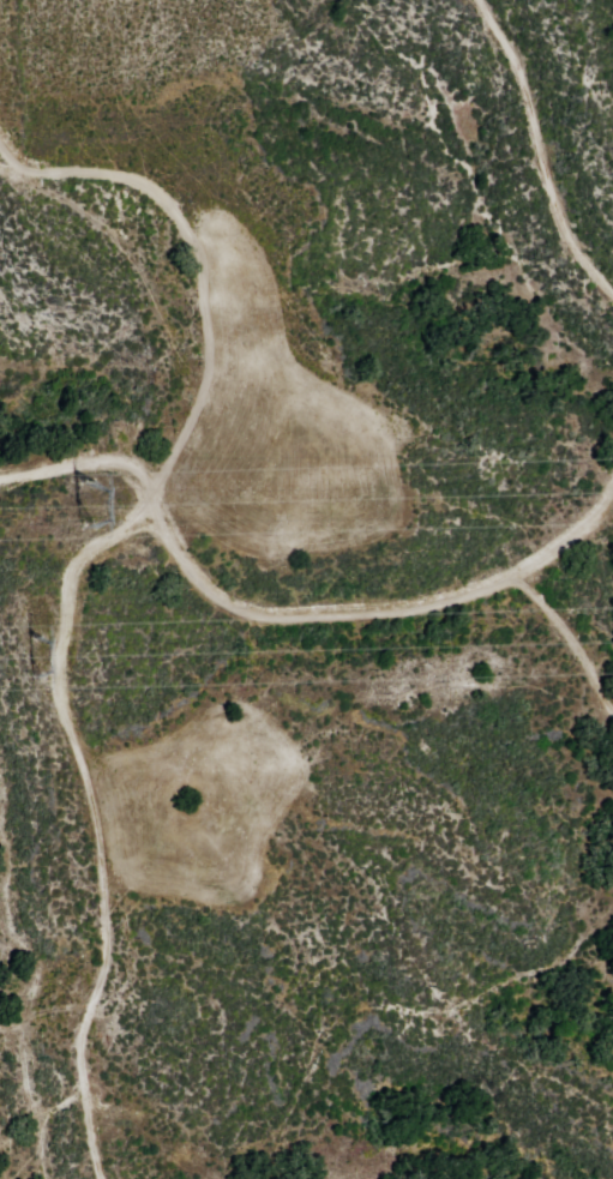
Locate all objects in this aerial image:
road: (178, 270)
power tower: (84, 495)
road: (293, 607)
power tower: (22, 644)

